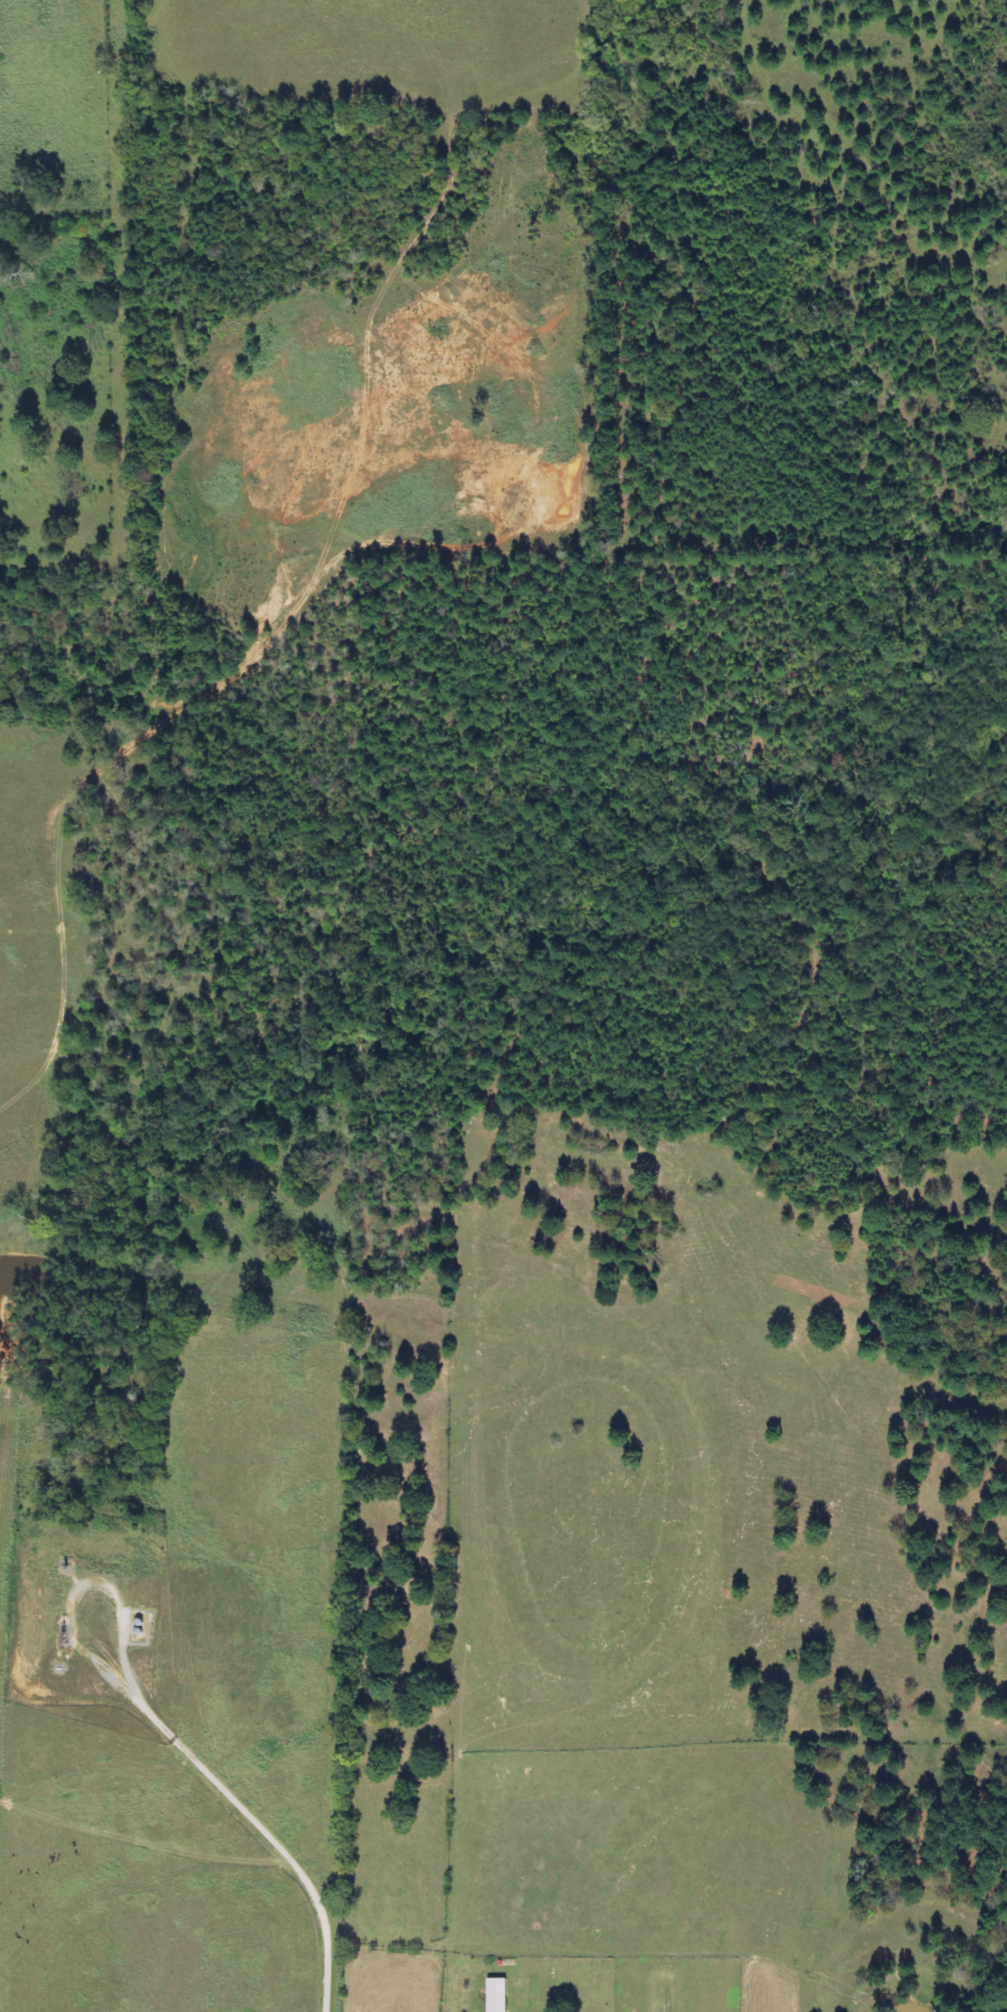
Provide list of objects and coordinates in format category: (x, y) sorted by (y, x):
building: (497, 1995)

